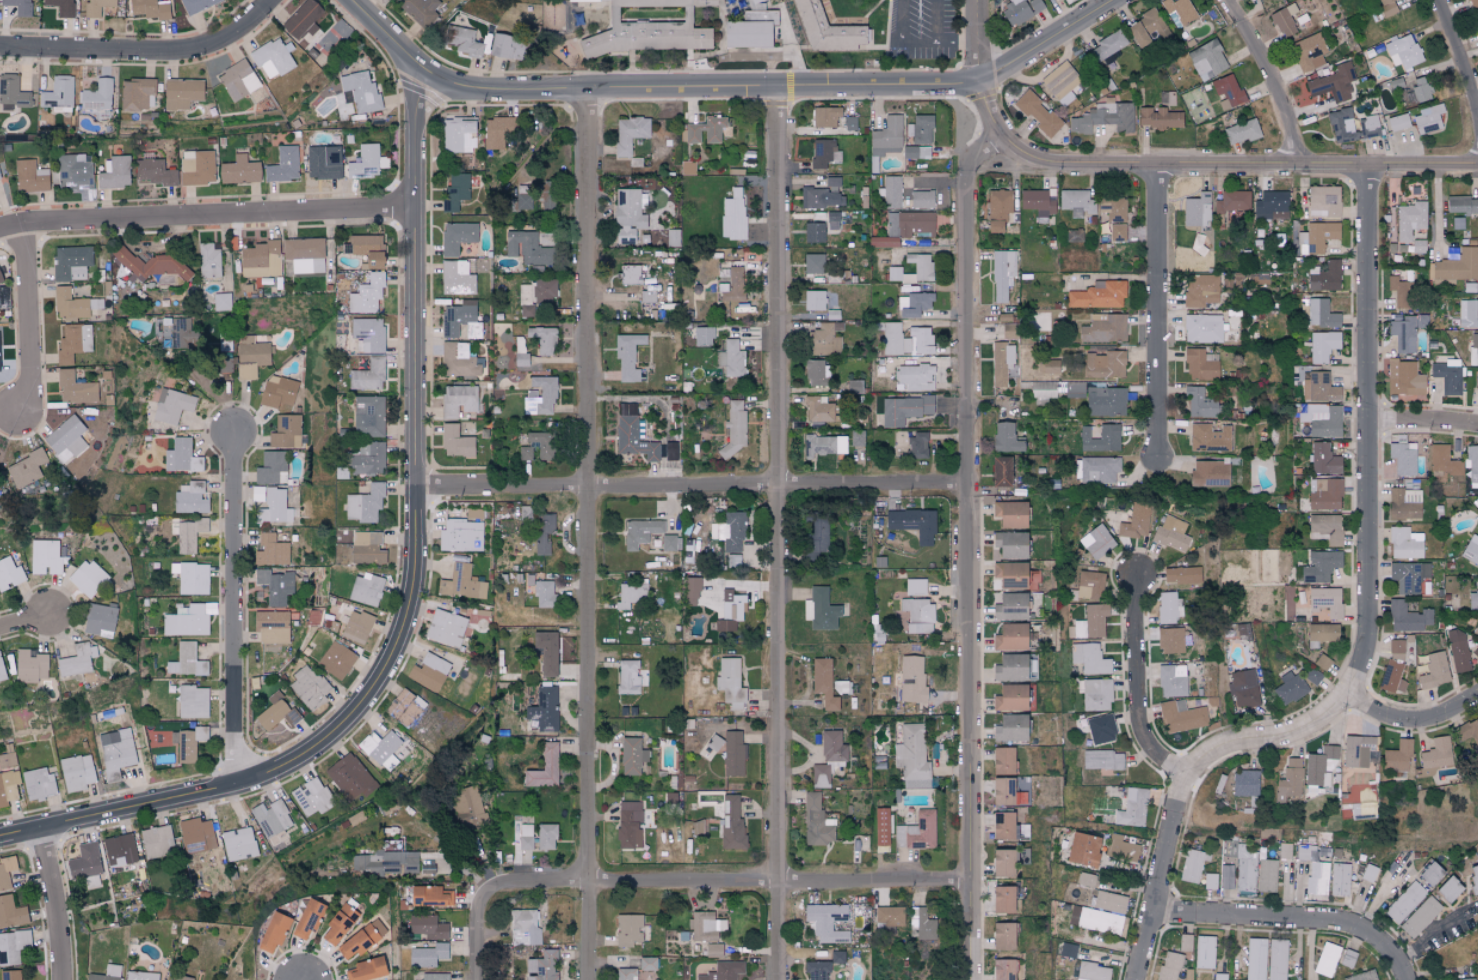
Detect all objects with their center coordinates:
building: (582, 1)
building: (1472, 2)
building: (196, 5)
building: (756, 5)
building: (19, 7)
building: (61, 7)
building: (96, 7)
building: (1386, 7)
building: (149, 9)
building: (419, 10)
building: (1020, 10)
building: (1179, 10)
building: (552, 16)
building: (1477, 19)
building: (302, 20)
building: (1284, 20)
road: (936, 23)
building: (648, 28)
parking lot: (923, 29)
building: (1146, 29)
building: (750, 30)
building: (826, 30)
building: (463, 41)
road: (978, 41)
building: (1107, 46)
building: (505, 47)
road: (915, 47)
road: (143, 50)
building: (1403, 52)
building: (1308, 53)
road: (1461, 53)
building: (272, 58)
building: (1207, 60)
road: (1280, 78)
building: (237, 80)
building: (1060, 80)
building: (1333, 84)
road: (731, 87)
building: (1420, 89)
building: (1227, 90)
building: (361, 91)
building: (181, 92)
building: (12, 93)
building: (137, 93)
building: (58, 94)
building: (97, 95)
building: (1037, 114)
building: (825, 116)
building: (1158, 118)
building: (1104, 119)
building: (1427, 120)
building: (850, 122)
building: (1398, 122)
building: (1341, 125)
building: (1370, 126)
building: (920, 129)
building: (705, 130)
building: (497, 131)
building: (1241, 132)
building: (458, 133)
building: (629, 133)
building: (887, 136)
building: (916, 152)
building: (824, 153)
building: (366, 161)
building: (323, 162)
building: (283, 165)
road: (1203, 165)
building: (196, 167)
building: (239, 170)
building: (73, 171)
building: (113, 172)
building: (152, 172)
building: (30, 176)
building: (0, 177)
building: (455, 191)
building: (822, 195)
building: (524, 197)
building: (921, 199)
building: (1233, 201)
building: (1323, 201)
building: (1076, 202)
building: (1036, 204)
building: (1461, 204)
building: (1271, 205)
building: (1113, 208)
building: (997, 209)
building: (1197, 210)
building: (627, 214)
building: (733, 214)
road: (208, 217)
building: (1410, 219)
building: (832, 220)
building: (1457, 222)
building: (910, 223)
building: (813, 232)
building: (1117, 232)
building: (1073, 234)
building: (1317, 235)
building: (456, 236)
building: (673, 237)
building: (883, 241)
building: (1197, 243)
building: (1418, 246)
building: (525, 247)
building: (304, 254)
building: (261, 259)
building: (69, 260)
building: (208, 260)
building: (813, 263)
building: (150, 264)
building: (1456, 266)
building: (922, 270)
building: (630, 274)
building: (1001, 274)
building: (1324, 276)
building: (456, 277)
building: (0, 280)
building: (734, 285)
building: (1398, 289)
building: (1200, 290)
building: (647, 293)
building: (367, 294)
building: (535, 295)
building: (1098, 295)
building: (814, 300)
building: (222, 301)
building: (913, 303)
building: (69, 304)
road: (1159, 309)
building: (1317, 312)
building: (1468, 312)
road: (28, 320)
building: (460, 321)
building: (1104, 328)
building: (1202, 328)
building: (1009, 330)
building: (1402, 332)
building: (367, 334)
building: (703, 335)
building: (543, 339)
building: (825, 339)
building: (894, 339)
building: (921, 339)
building: (73, 342)
building: (1322, 345)
building: (1473, 349)
building: (251, 356)
building: (627, 356)
building: (731, 359)
building: (458, 360)
building: (1000, 362)
building: (1105, 364)
building: (225, 365)
building: (1199, 365)
building: (1050, 366)
building: (816, 373)
building: (368, 375)
building: (1447, 375)
building: (915, 377)
building: (1403, 378)
building: (854, 386)
building: (1319, 387)
building: (74, 388)
building: (1043, 390)
building: (1075, 390)
building: (278, 392)
building: (540, 396)
building: (457, 400)
building: (1105, 401)
building: (1200, 402)
building: (171, 405)
building: (818, 409)
building: (904, 409)
building: (368, 415)
building: (1324, 419)
road: (1423, 424)
building: (735, 427)
building: (285, 431)
building: (632, 433)
building: (1006, 437)
building: (1208, 437)
building: (1100, 438)
building: (65, 439)
building: (455, 441)
building: (823, 445)
building: (916, 445)
building: (537, 446)
building: (670, 451)
building: (181, 456)
building: (368, 458)
building: (1403, 458)
building: (1324, 459)
building: (1472, 464)
building: (1443, 465)
building: (271, 467)
building: (25, 468)
building: (1096, 469)
building: (1001, 471)
building: (1209, 474)
road: (693, 487)
building: (1324, 493)
building: (191, 498)
building: (1404, 503)
building: (271, 504)
building: (364, 504)
building: (1010, 513)
building: (1136, 521)
building: (913, 523)
road: (1368, 526)
building: (1325, 528)
building: (543, 532)
building: (640, 532)
building: (729, 532)
building: (187, 533)
road: (778, 533)
building: (1171, 533)
road: (590, 534)
building: (461, 535)
building: (815, 537)
building: (669, 542)
building: (1099, 542)
building: (1404, 543)
building: (1010, 544)
building: (366, 547)
building: (271, 550)
building: (1471, 550)
road: (969, 552)
building: (45, 557)
building: (733, 560)
building: (1319, 566)
building: (9, 573)
building: (1010, 574)
building: (1181, 575)
building: (1408, 576)
building: (191, 577)
building: (87, 578)
building: (462, 583)
road: (416, 585)
building: (1090, 585)
building: (275, 586)
building: (915, 586)
building: (366, 589)
building: (690, 591)
building: (543, 593)
building: (630, 594)
building: (1473, 599)
building: (1325, 601)
building: (732, 605)
building: (1010, 606)
building: (1168, 607)
road: (234, 609)
building: (806, 609)
building: (822, 609)
building: (918, 615)
building: (1407, 617)
building: (98, 618)
building: (189, 620)
building: (1091, 621)
road: (24, 625)
building: (271, 626)
building: (356, 626)
building: (445, 628)
building: (721, 630)
building: (1232, 631)
building: (1243, 631)
building: (1475, 631)
building: (1319, 634)
building: (1010, 637)
building: (1170, 640)
building: (1457, 650)
building: (546, 651)
building: (1475, 652)
building: (1090, 658)
building: (76, 660)
building: (186, 660)
building: (336, 660)
building: (1322, 662)
building: (30, 665)
building: (1010, 667)
building: (1394, 668)
building: (1434, 670)
building: (1, 671)
building: (430, 673)
building: (1313, 675)
building: (628, 677)
building: (909, 679)
building: (1172, 680)
building: (823, 682)
building: (730, 683)
building: (309, 687)
building: (842, 687)
building: (1288, 688)
building: (1243, 689)
road: (1141, 690)
building: (1095, 694)
building: (1010, 698)
building: (192, 701)
building: (405, 707)
building: (543, 709)
building: (111, 712)
building: (276, 712)
building: (1181, 716)
road: (1412, 726)
building: (1010, 728)
building: (1100, 729)
building: (1469, 733)
building: (188, 743)
building: (711, 746)
building: (832, 746)
building: (381, 749)
building: (1356, 750)
building: (116, 752)
building: (733, 753)
building: (632, 756)
building: (1396, 756)
building: (1435, 756)
building: (912, 757)
building: (1003, 760)
building: (1102, 760)
building: (1318, 766)
building: (544, 767)
building: (77, 772)
building: (820, 776)
building: (350, 777)
building: (1289, 780)
building: (1245, 783)
building: (38, 784)
building: (8, 786)
building: (1004, 791)
building: (311, 796)
building: (466, 803)
building: (1131, 808)
building: (1363, 811)
building: (270, 818)
building: (816, 821)
building: (731, 823)
building: (629, 825)
building: (1003, 825)
building: (881, 826)
building: (697, 827)
building: (917, 831)
building: (196, 835)
building: (525, 836)
building: (546, 836)
building: (157, 842)
building: (860, 843)
building: (238, 844)
building: (1121, 848)
building: (1083, 849)
building: (119, 850)
building: (1284, 850)
building: (1305, 852)
building: (385, 861)
building: (85, 862)
building: (1004, 863)
building: (1191, 866)
building: (1244, 868)
building: (6, 871)
building: (1369, 873)
building: (1431, 874)
building: (1266, 875)
building: (1473, 877)
building: (1317, 878)
building: (1339, 879)
building: (1085, 880)
road: (1161, 880)
building: (1209, 881)
road: (726, 883)
building: (1448, 889)
building: (430, 896)
building: (1003, 899)
building: (1110, 902)
building: (1404, 902)
road: (54, 904)
building: (11, 912)
building: (889, 916)
building: (1420, 917)
building: (1475, 917)
building: (307, 918)
road: (1293, 918)
building: (826, 922)
building: (1099, 922)
building: (338, 923)
building: (923, 923)
building: (523, 924)
building: (427, 926)
building: (705, 926)
building: (628, 929)
road: (1436, 931)
building: (273, 932)
road: (482, 932)
building: (1003, 936)
building: (361, 939)
building: (1184, 943)
building: (15, 945)
building: (713, 950)
building: (1067, 950)
building: (1204, 952)
building: (427, 955)
building: (1348, 958)
building: (1255, 959)
building: (1276, 959)
building: (1326, 959)
building: (647, 963)
building: (541, 966)
building: (1169, 966)
building: (367, 969)
building: (1003, 969)
building: (816, 970)
building: (723, 971)
building: (1092, 972)
building: (107, 973)
building: (625, 974)
building: (10, 975)
building: (141, 976)
building: (434, 976)
building: (1362, 976)
building: (181, 977)
building: (1467, 979)

